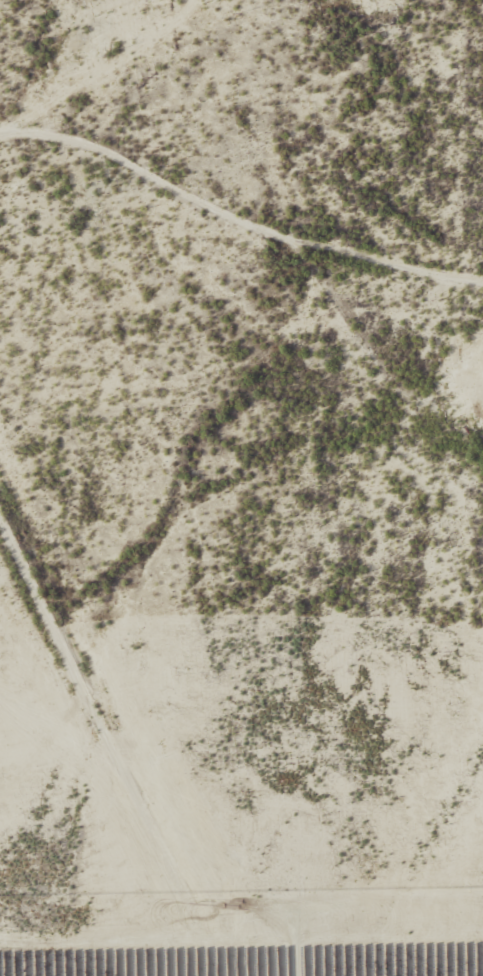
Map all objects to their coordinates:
road: (58, 42)
road: (234, 216)
road: (115, 745)

